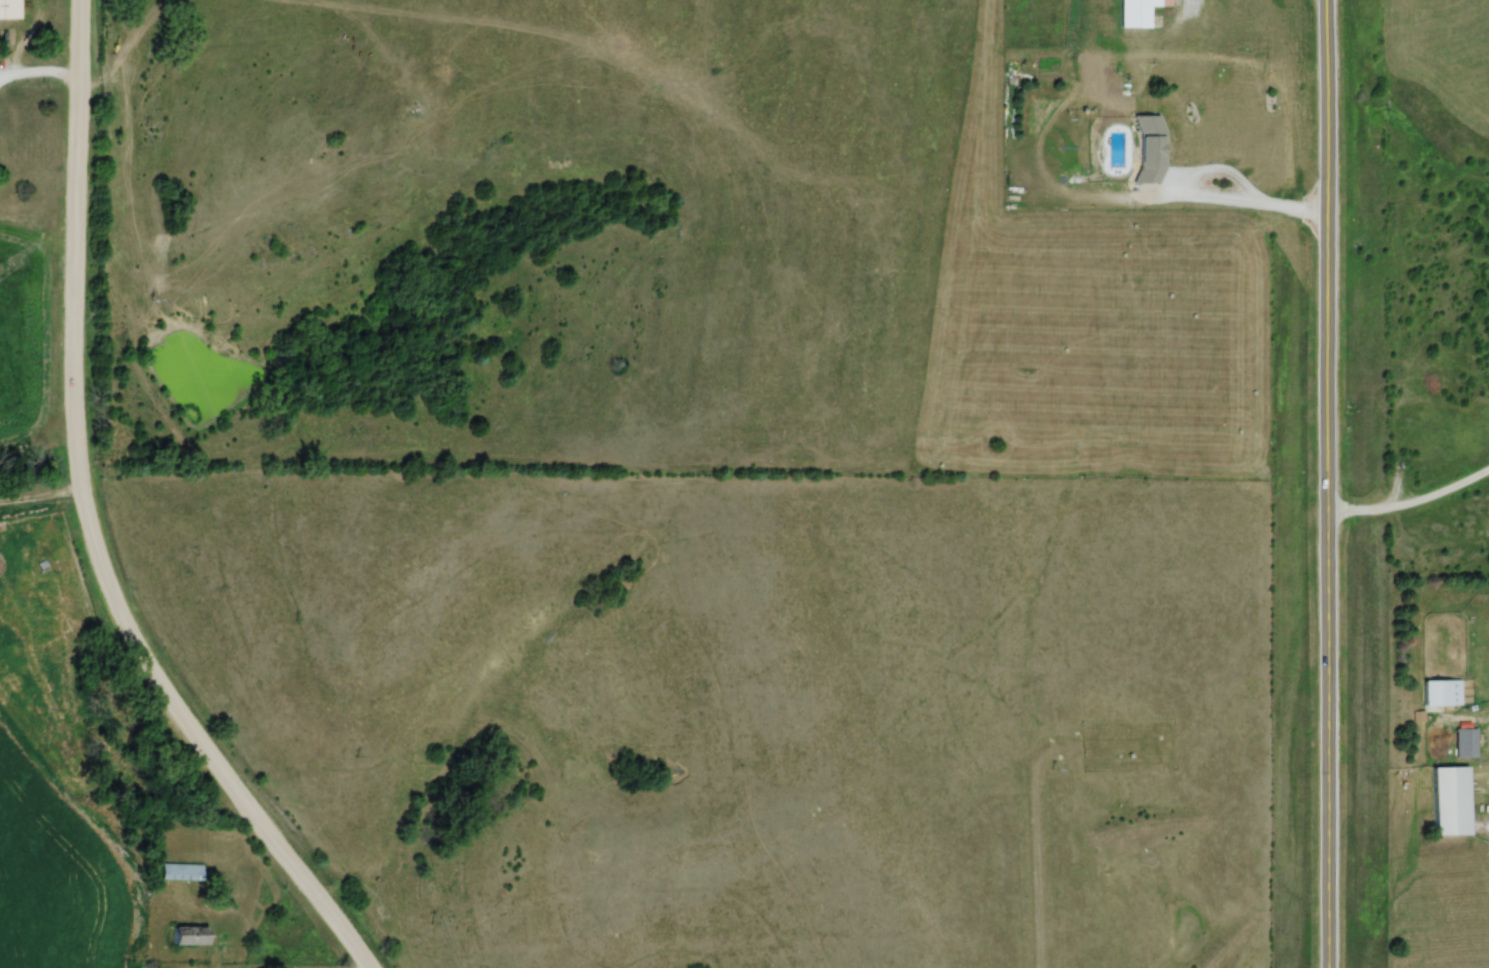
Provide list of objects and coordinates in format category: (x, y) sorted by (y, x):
building: (7, 8)
building: (1137, 13)
road: (39, 78)
building: (1150, 150)
road: (1202, 191)
road: (1327, 483)
road: (1410, 498)
road: (88, 525)
building: (1436, 691)
building: (1463, 738)
building: (1449, 799)
building: (182, 872)
building: (190, 937)

